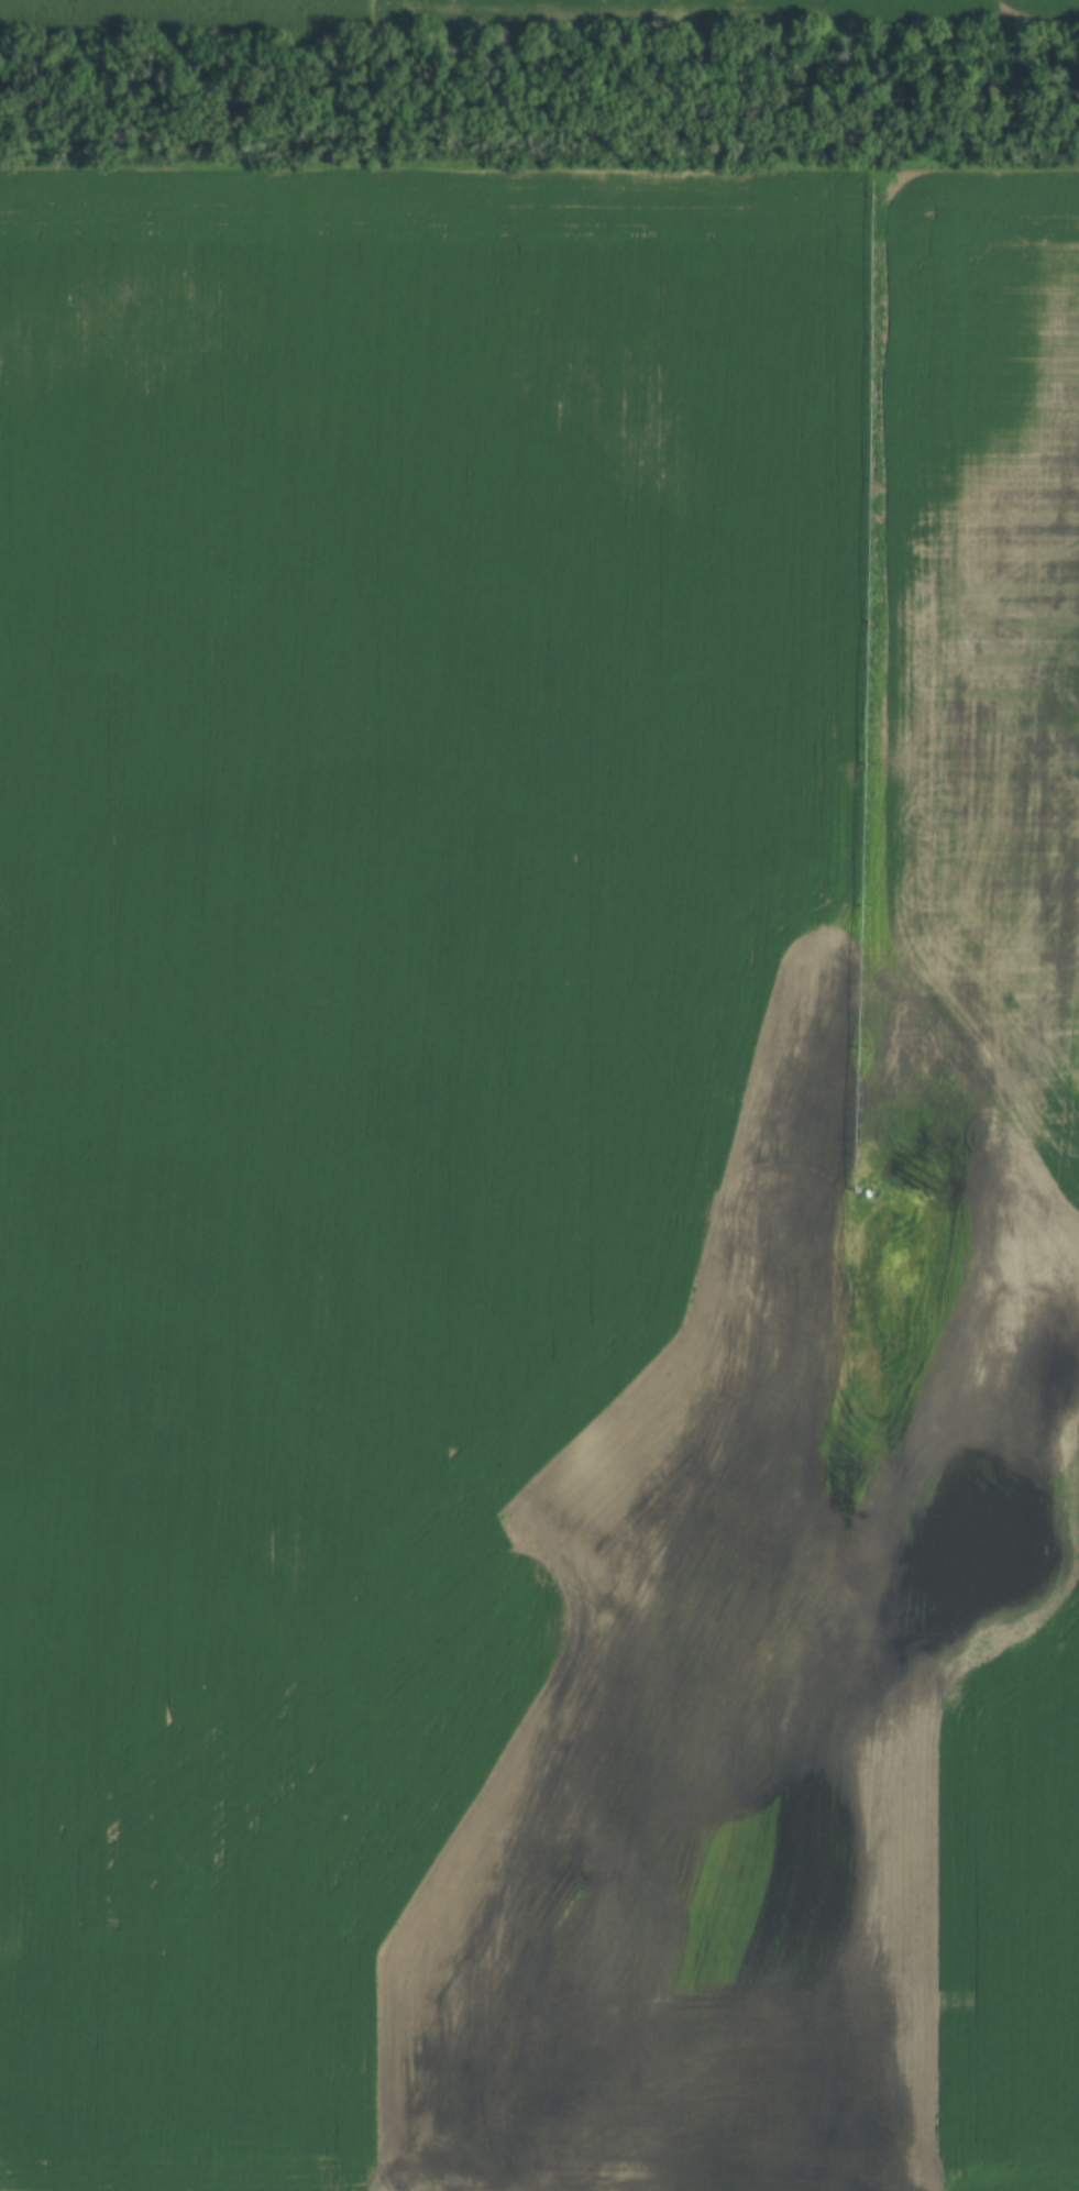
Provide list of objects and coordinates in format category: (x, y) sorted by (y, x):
crop: (510, 9)
crop: (539, 1178)

